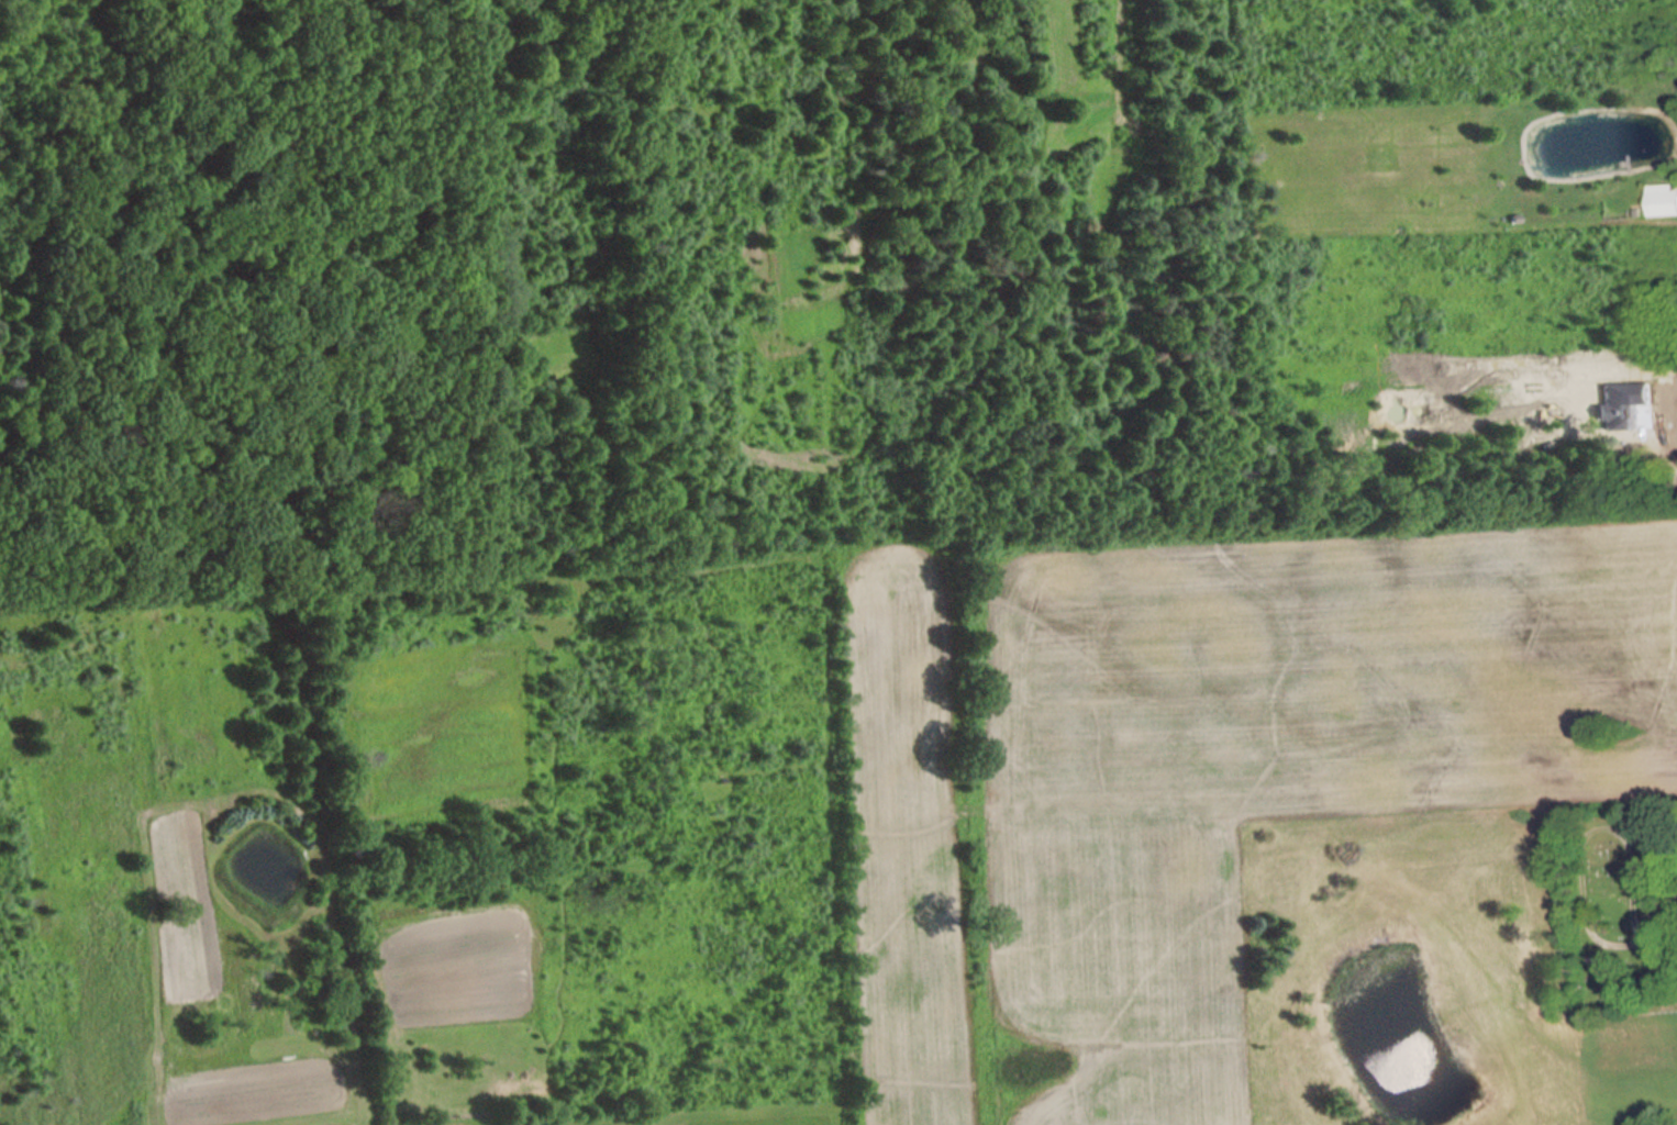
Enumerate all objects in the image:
building: (1662, 200)

